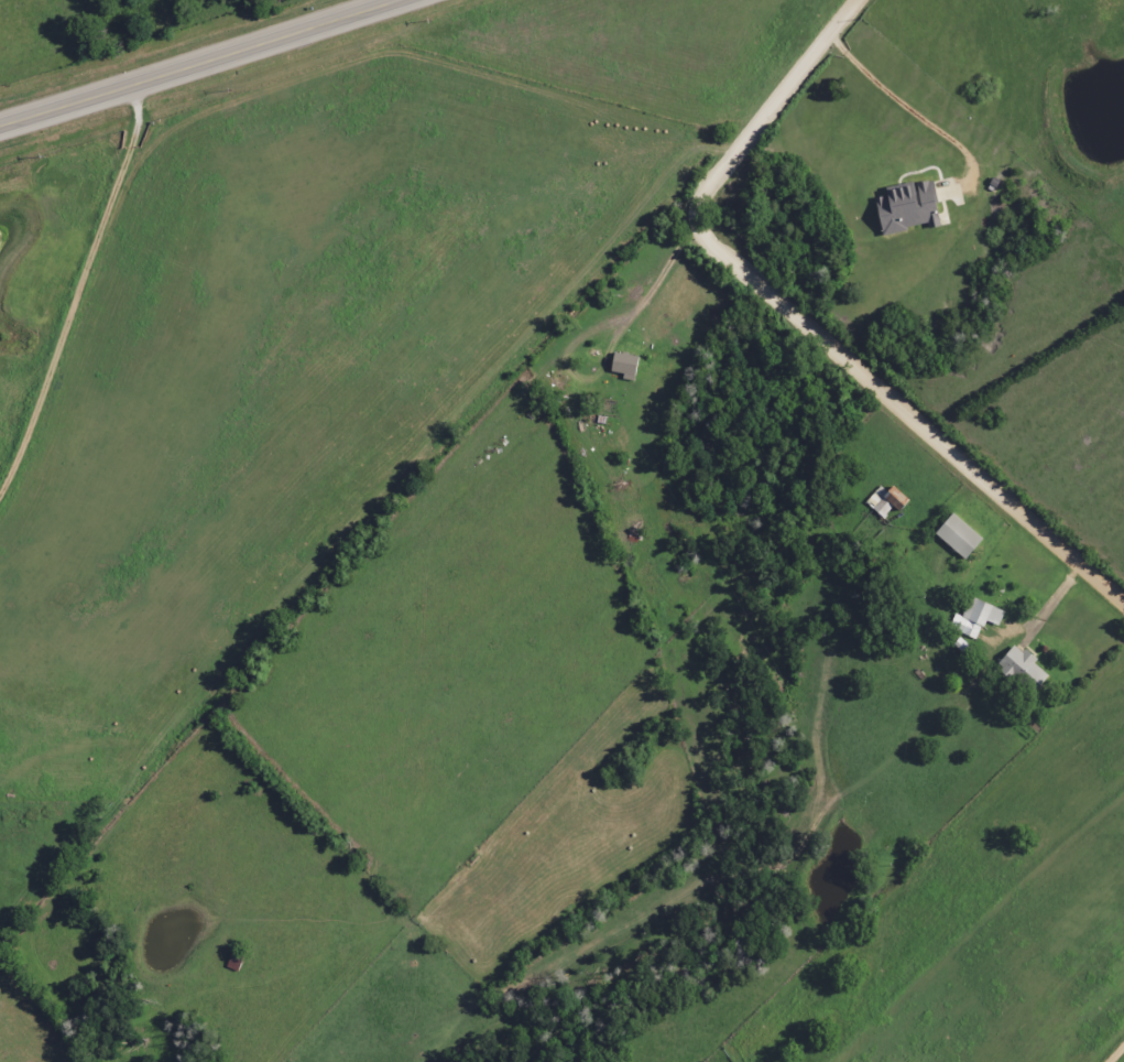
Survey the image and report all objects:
road: (269, 41)
road: (70, 102)
road: (66, 263)
road: (806, 325)
building: (613, 367)
building: (949, 538)
building: (971, 619)
building: (1016, 671)

